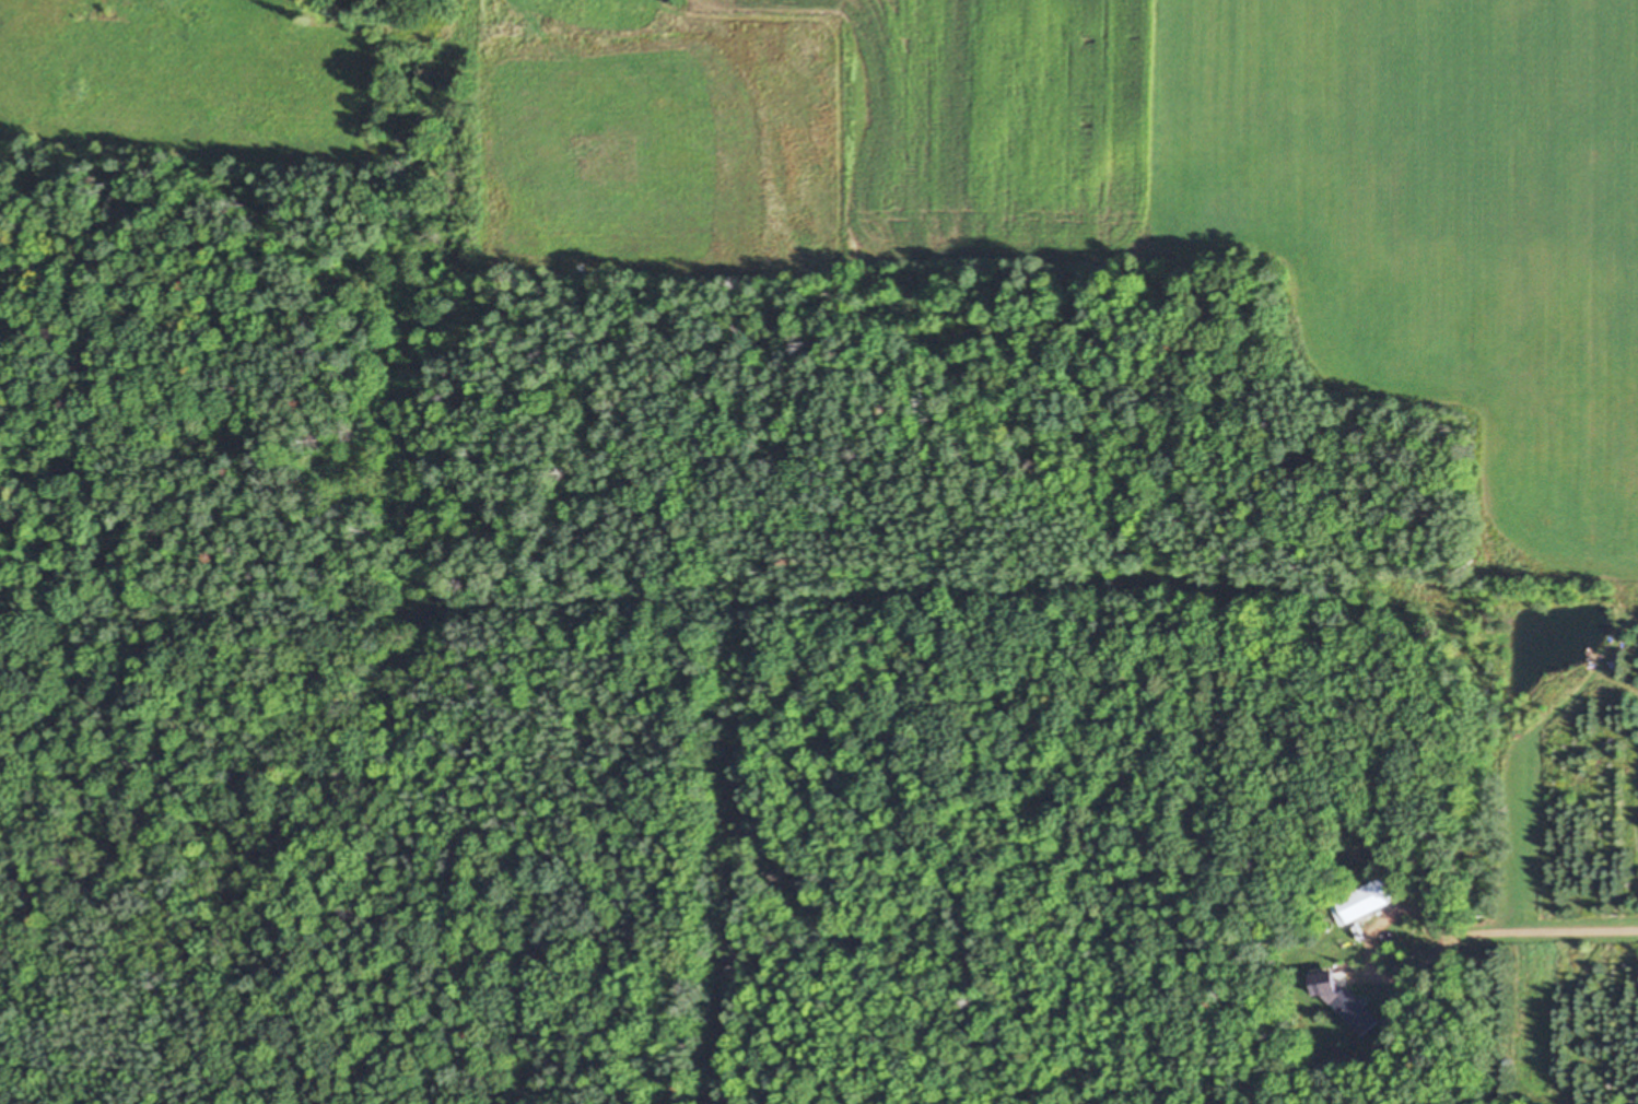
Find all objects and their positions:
building: (1369, 900)
road: (1544, 932)
road: (1370, 958)
building: (1358, 1011)

